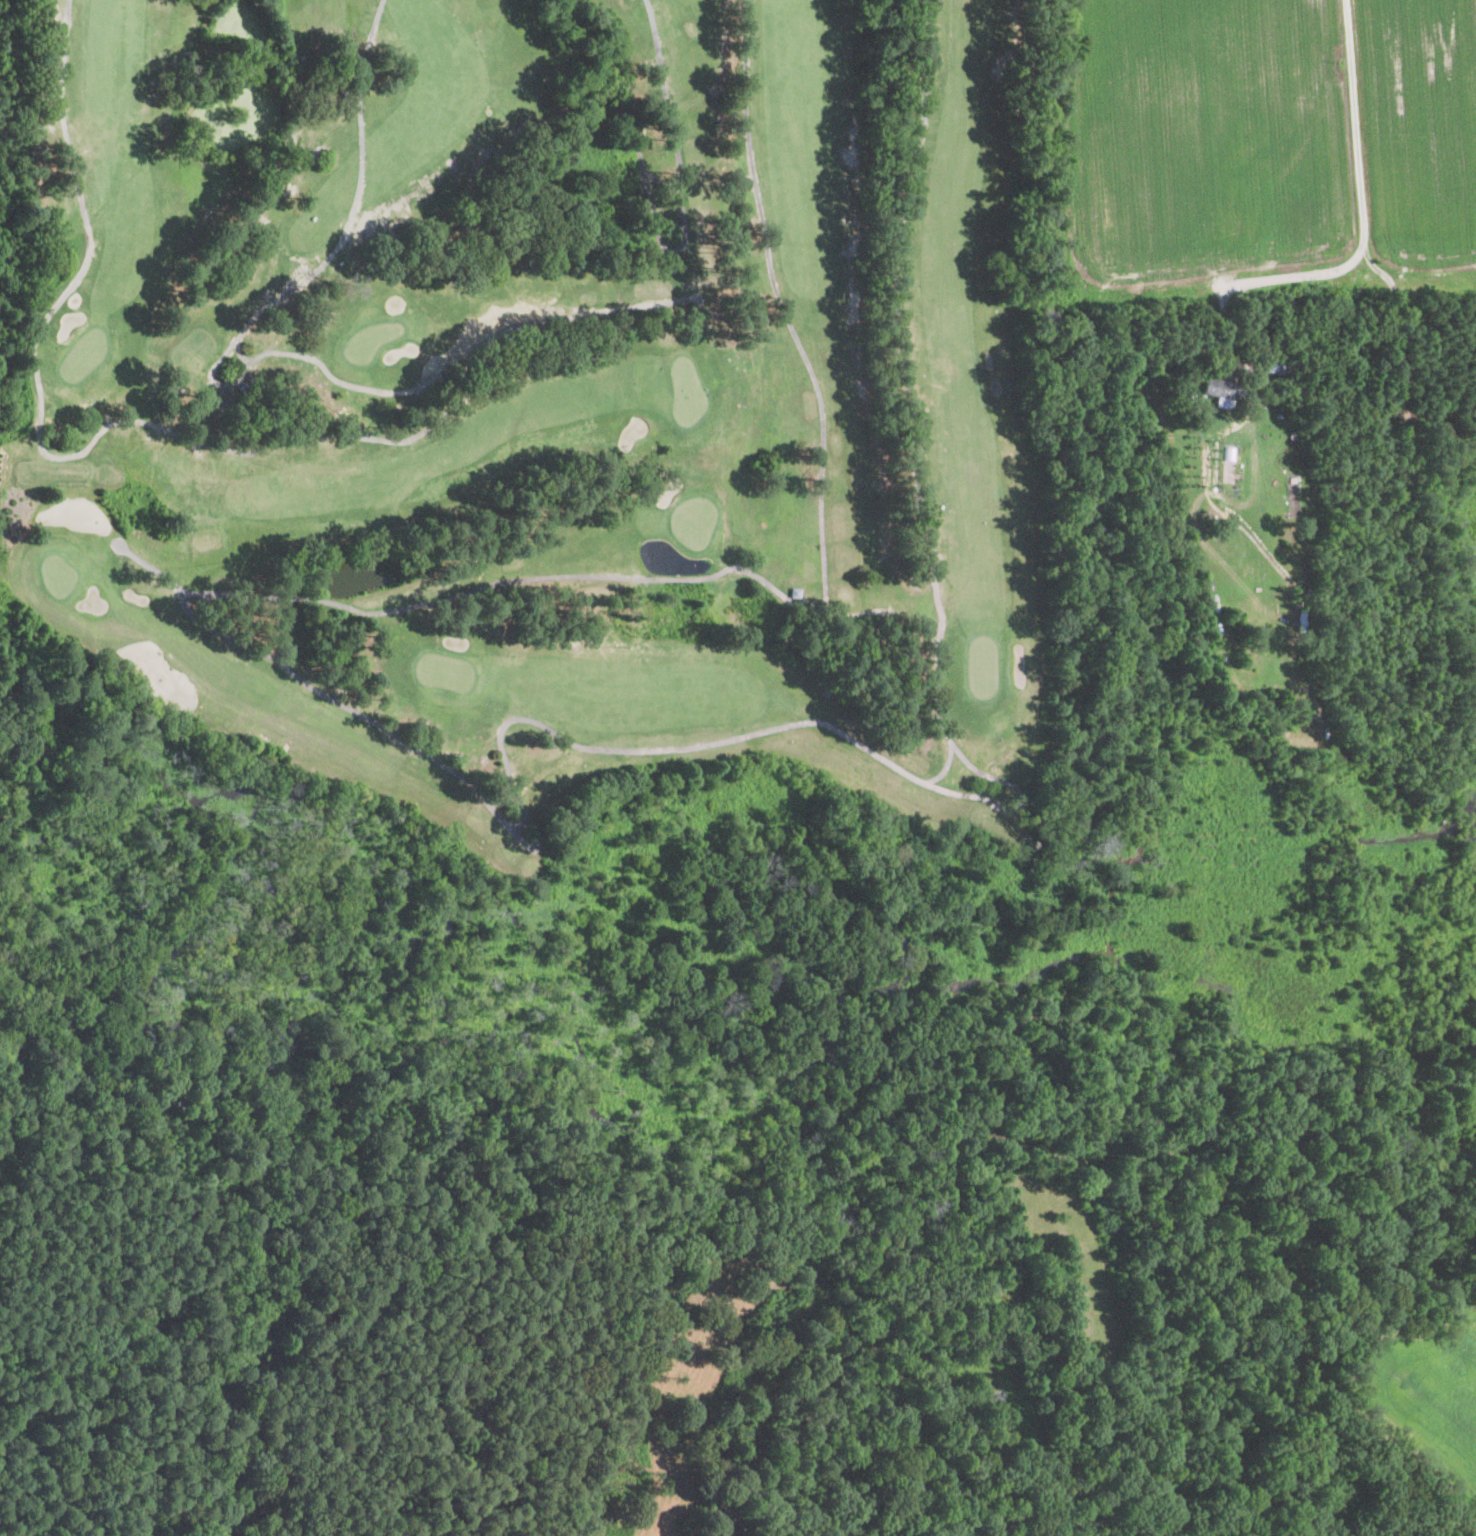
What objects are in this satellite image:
road: (1360, 194)
road: (241, 353)
building: (1275, 367)
building: (247, 387)
road: (417, 387)
building: (1228, 391)
building: (1223, 403)
building: (1442, 430)
building: (798, 592)
quarry: (736, 1201)

